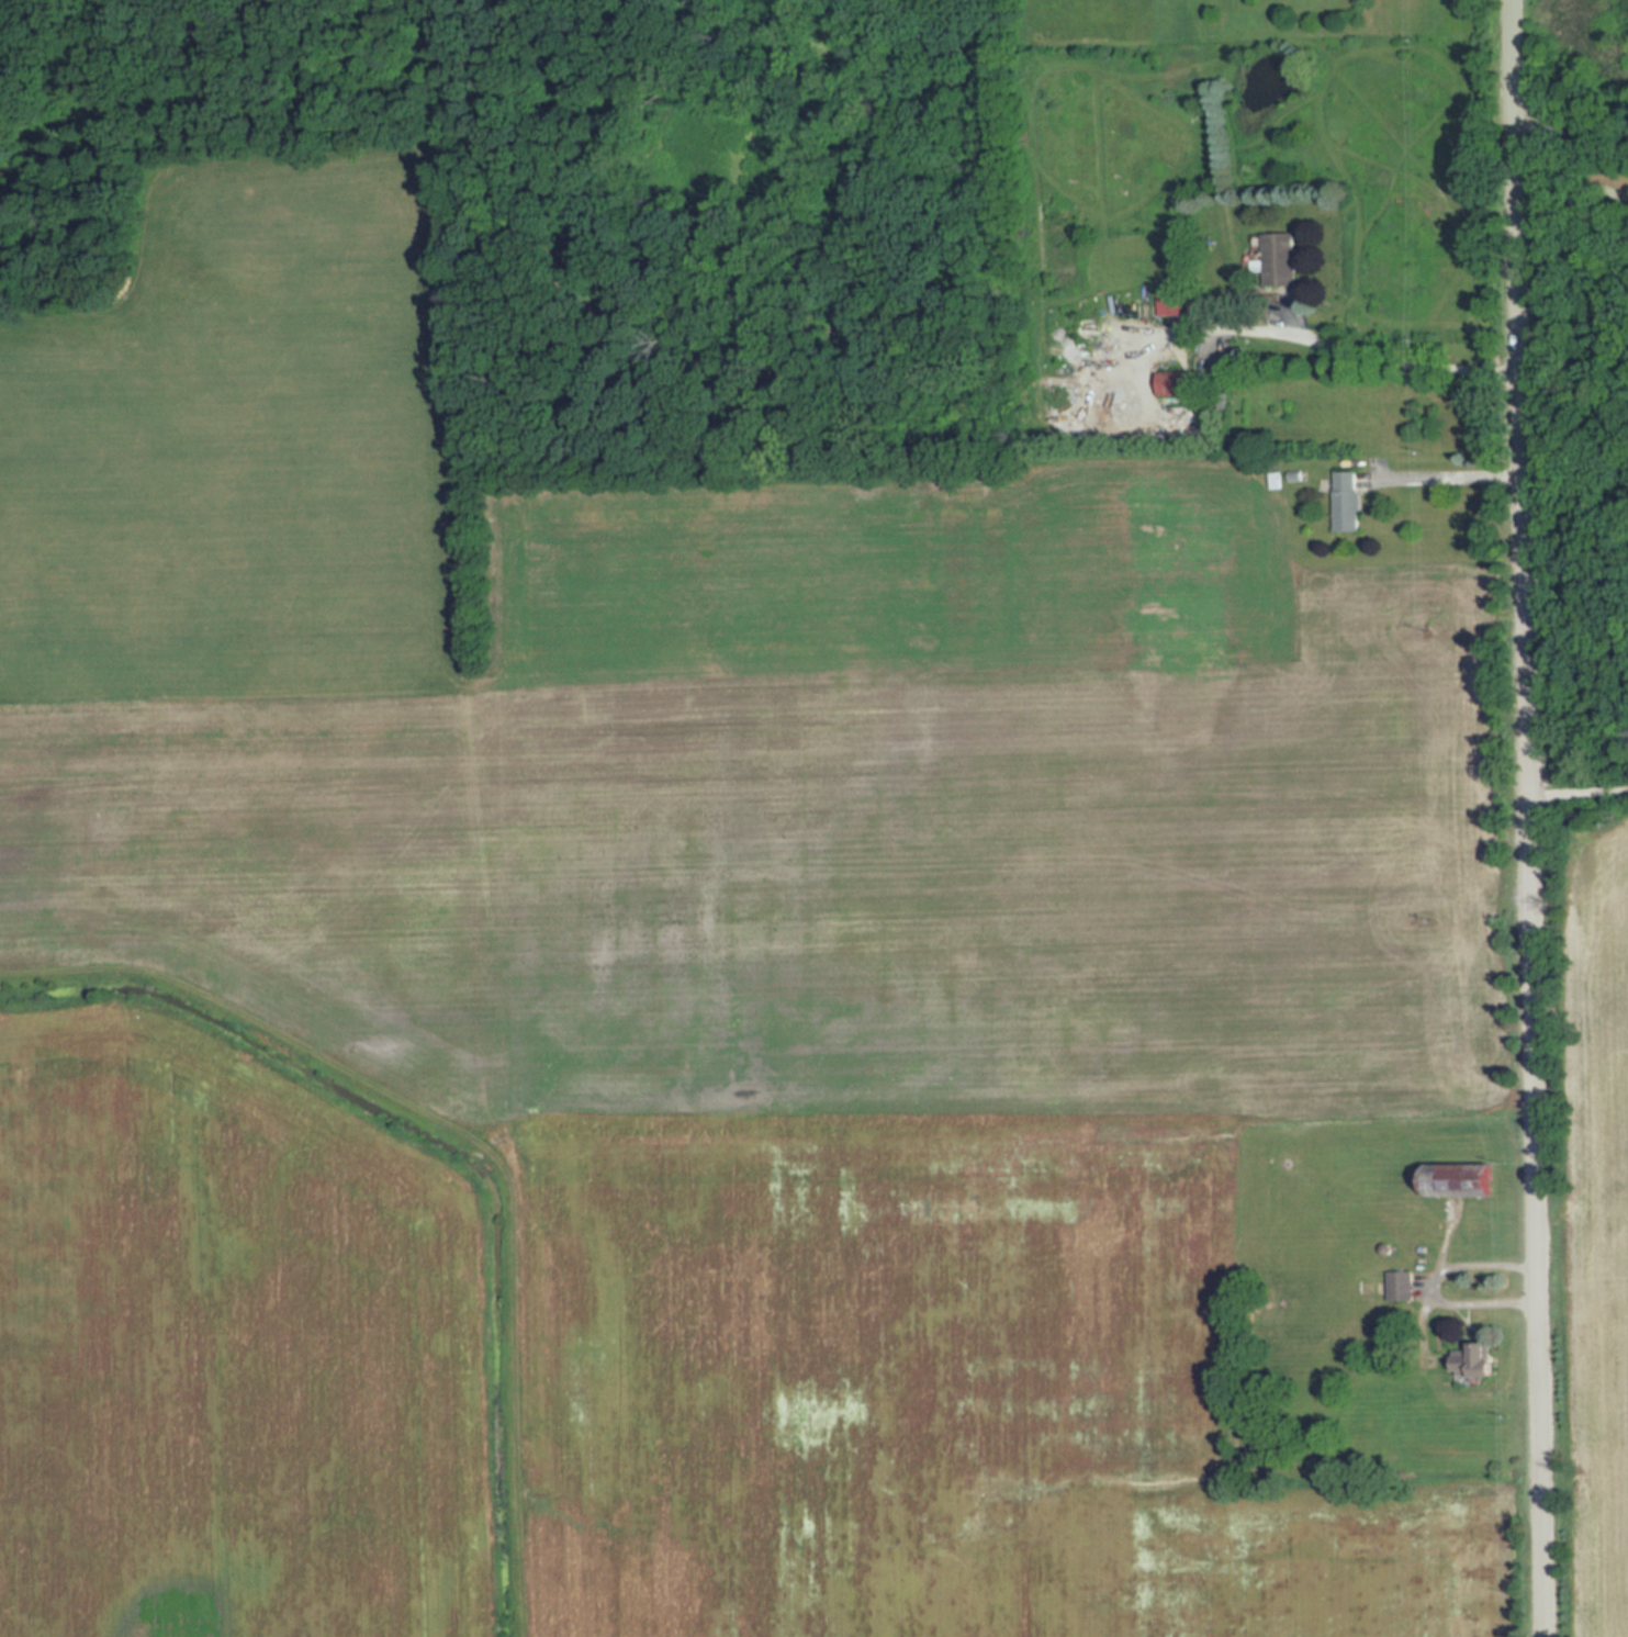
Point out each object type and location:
road: (1572, 134)
road: (1573, 189)
building: (1281, 260)
building: (1174, 304)
road: (1401, 362)
building: (1176, 383)
road: (1451, 479)
building: (1348, 502)
road: (1576, 581)
road: (1579, 795)
road: (1529, 818)
building: (1461, 1178)
building: (1401, 1285)
road: (1435, 1290)
building: (1477, 1359)

